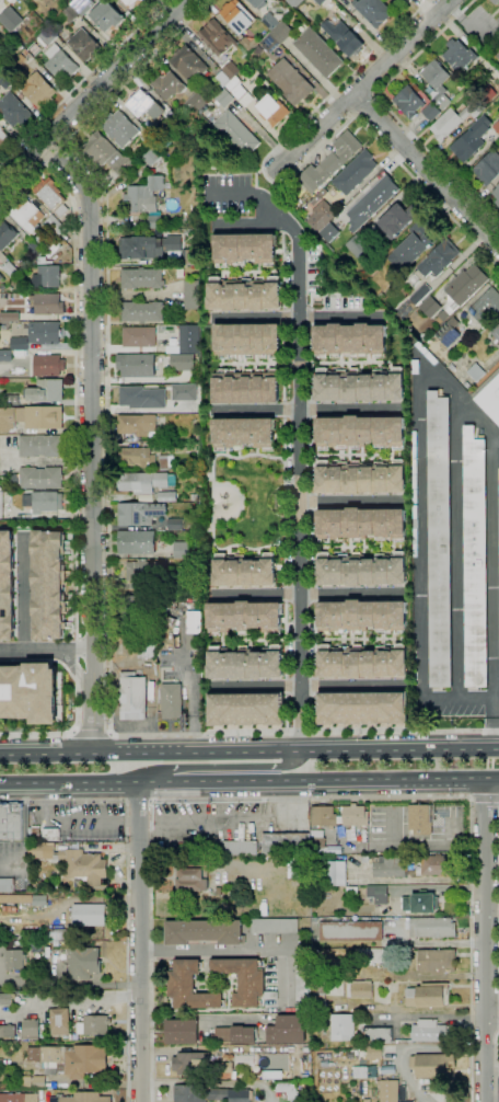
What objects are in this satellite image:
building: (404, 0)
building: (406, 0)
building: (69, 1)
building: (495, 1)
building: (293, 2)
building: (131, 3)
building: (79, 4)
building: (373, 11)
building: (9, 12)
building: (69, 13)
building: (268, 13)
building: (237, 15)
building: (108, 16)
building: (498, 19)
building: (330, 27)
building: (0, 31)
building: (282, 32)
building: (63, 35)
building: (46, 36)
building: (217, 38)
building: (248, 44)
building: (84, 45)
building: (35, 47)
building: (317, 53)
building: (244, 54)
building: (460, 55)
building: (483, 61)
building: (60, 62)
building: (188, 64)
building: (230, 69)
building: (283, 72)
building: (221, 79)
building: (4, 80)
road: (83, 80)
building: (437, 82)
road: (365, 83)
building: (496, 83)
building: (166, 84)
road: (363, 84)
building: (39, 90)
building: (239, 91)
road: (95, 92)
building: (224, 97)
building: (486, 97)
building: (408, 101)
building: (197, 102)
building: (140, 103)
road: (365, 104)
building: (271, 110)
building: (13, 111)
road: (390, 111)
building: (156, 112)
building: (431, 112)
building: (494, 112)
building: (174, 117)
building: (454, 119)
building: (497, 127)
building: (120, 128)
building: (236, 133)
building: (2, 135)
building: (149, 138)
building: (467, 146)
road: (55, 151)
building: (106, 153)
building: (152, 156)
building: (330, 162)
road: (299, 163)
building: (488, 168)
road: (426, 172)
building: (355, 173)
road: (256, 180)
building: (386, 186)
building: (49, 193)
parking lot: (224, 193)
building: (496, 194)
building: (144, 195)
road: (254, 196)
building: (315, 199)
building: (60, 210)
building: (28, 215)
building: (321, 216)
building: (398, 219)
building: (154, 221)
building: (362, 221)
building: (54, 228)
building: (7, 236)
building: (21, 240)
building: (37, 244)
building: (357, 244)
building: (414, 244)
building: (148, 246)
building: (246, 248)
building: (443, 254)
building: (190, 257)
building: (43, 261)
road: (283, 267)
building: (10, 269)
road: (253, 272)
building: (1, 276)
building: (46, 277)
building: (141, 278)
building: (463, 288)
building: (418, 294)
building: (192, 295)
road: (318, 295)
building: (246, 296)
building: (47, 303)
building: (430, 307)
building: (486, 307)
building: (141, 311)
building: (442, 315)
building: (9, 317)
road: (285, 318)
road: (295, 318)
road: (311, 318)
building: (496, 332)
building: (45, 333)
building: (453, 333)
building: (138, 336)
building: (423, 337)
building: (188, 338)
building: (248, 338)
building: (351, 338)
building: (19, 343)
building: (172, 349)
building: (20, 353)
building: (4, 355)
building: (182, 363)
road: (283, 363)
road: (312, 363)
road: (350, 363)
road: (255, 364)
road: (300, 364)
building: (48, 365)
building: (144, 365)
building: (452, 367)
building: (476, 371)
road: (438, 377)
building: (466, 384)
building: (360, 387)
building: (246, 388)
building: (46, 390)
building: (184, 392)
building: (489, 394)
building: (142, 398)
building: (12, 400)
road: (312, 409)
road: (283, 410)
road: (306, 410)
building: (39, 416)
building: (7, 418)
building: (137, 425)
building: (360, 431)
building: (244, 432)
building: (196, 436)
road: (497, 437)
road: (92, 438)
building: (42, 446)
building: (164, 446)
road: (300, 446)
road: (74, 451)
road: (314, 456)
building: (137, 457)
building: (166, 461)
building: (498, 471)
building: (38, 478)
building: (361, 479)
building: (142, 483)
building: (166, 496)
road: (352, 501)
building: (44, 502)
road: (212, 502)
road: (283, 502)
road: (314, 503)
building: (1, 505)
building: (139, 513)
building: (362, 524)
building: (416, 524)
building: (175, 525)
road: (106, 526)
building: (198, 528)
building: (439, 540)
building: (137, 542)
road: (457, 548)
road: (315, 549)
building: (182, 550)
building: (475, 559)
building: (190, 566)
building: (146, 571)
building: (245, 571)
building: (362, 571)
building: (48, 584)
building: (7, 586)
road: (285, 594)
road: (307, 594)
road: (315, 594)
building: (134, 606)
building: (362, 616)
building: (244, 617)
building: (193, 629)
road: (380, 639)
road: (254, 640)
road: (286, 640)
road: (316, 640)
road: (348, 640)
building: (147, 644)
road: (47, 655)
building: (246, 664)
building: (363, 664)
road: (498, 674)
road: (193, 676)
road: (286, 686)
road: (306, 686)
road: (316, 686)
building: (28, 693)
building: (132, 696)
road: (456, 698)
building: (171, 701)
building: (362, 708)
building: (246, 709)
road: (286, 714)
road: (316, 714)
road: (491, 722)
road: (92, 734)
road: (249, 748)
road: (224, 769)
road: (248, 783)
road: (141, 794)
road: (471, 797)
road: (485, 797)
road: (312, 799)
road: (61, 801)
road: (137, 804)
building: (325, 816)
building: (356, 816)
building: (420, 818)
building: (11, 820)
building: (35, 833)
building: (51, 834)
building: (30, 840)
road: (25, 841)
building: (318, 842)
building: (287, 843)
building: (206, 847)
road: (437, 847)
building: (237, 848)
building: (371, 856)
building: (364, 858)
building: (371, 861)
building: (73, 862)
building: (440, 864)
building: (298, 866)
building: (392, 866)
building: (42, 874)
building: (336, 874)
building: (192, 879)
road: (423, 880)
building: (313, 882)
building: (37, 883)
building: (7, 885)
building: (31, 888)
building: (352, 891)
building: (218, 892)
building: (376, 895)
building: (289, 897)
building: (39, 900)
building: (349, 902)
building: (420, 903)
building: (286, 905)
building: (90, 915)
building: (336, 918)
building: (365, 918)
building: (275, 926)
building: (431, 927)
building: (351, 931)
building: (204, 932)
building: (58, 934)
road: (484, 941)
road: (440, 942)
building: (19, 943)
road: (243, 949)
road: (125, 951)
road: (140, 952)
building: (373, 955)
building: (15, 960)
building: (433, 960)
building: (84, 963)
building: (245, 980)
building: (303, 980)
road: (69, 985)
building: (190, 987)
building: (358, 989)
building: (423, 996)
building: (7, 999)
road: (68, 1000)
road: (196, 1018)
building: (60, 1021)
building: (96, 1024)
building: (340, 1026)
building: (31, 1030)
building: (288, 1030)
building: (8, 1031)
building: (427, 1031)
building: (182, 1032)
building: (376, 1034)
building: (235, 1035)
building: (374, 1052)
building: (73, 1059)
building: (192, 1065)
building: (253, 1065)
building: (433, 1065)
road: (496, 1067)
building: (25, 1070)
building: (22, 1078)
building: (36, 1082)
building: (49, 1088)
building: (287, 1088)
building: (388, 1091)
building: (210, 1094)
building: (19, 1098)
building: (82, 1098)
building: (298, 1101)
road: (497, 1101)

